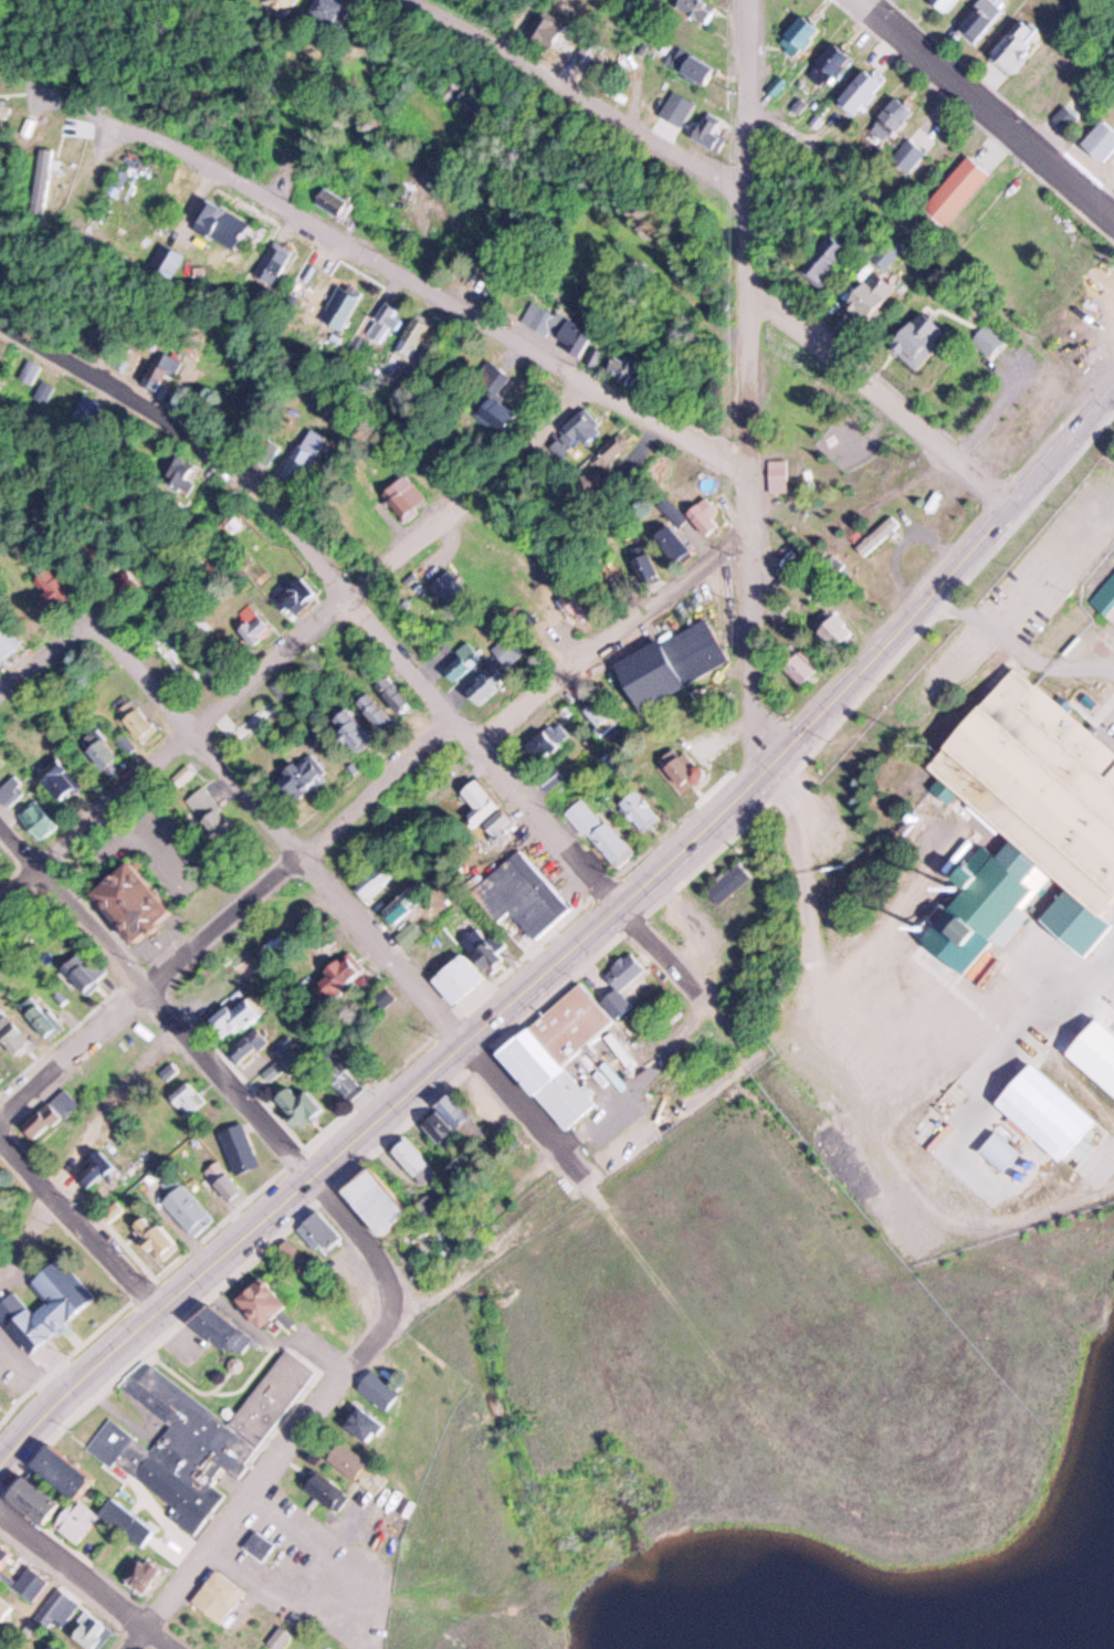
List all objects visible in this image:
building: (285, 2)
building: (945, 3)
building: (697, 8)
building: (324, 10)
building: (979, 18)
building: (544, 27)
building: (799, 35)
road: (747, 39)
building: (1018, 44)
building: (829, 60)
building: (696, 66)
building: (860, 90)
road: (599, 92)
building: (676, 106)
road: (996, 106)
building: (4, 111)
building: (889, 117)
building: (706, 127)
building: (31, 129)
road: (748, 134)
building: (1103, 143)
building: (907, 154)
building: (42, 179)
building: (956, 189)
building: (332, 200)
building: (224, 222)
road: (906, 222)
building: (885, 252)
building: (162, 258)
building: (820, 258)
building: (271, 265)
road: (430, 279)
building: (866, 295)
building: (340, 306)
building: (538, 317)
building: (385, 322)
building: (416, 336)
building: (914, 340)
building: (990, 340)
building: (577, 343)
building: (356, 345)
building: (618, 368)
building: (161, 371)
building: (35, 372)
building: (495, 379)
road: (1083, 386)
road: (882, 388)
building: (50, 390)
building: (92, 409)
building: (490, 417)
building: (572, 434)
building: (606, 449)
building: (266, 451)
building: (302, 455)
building: (181, 473)
building: (780, 474)
road: (753, 477)
building: (588, 482)
road: (1027, 485)
building: (404, 494)
building: (703, 522)
building: (879, 536)
building: (673, 542)
building: (642, 565)
road: (338, 575)
building: (45, 589)
building: (297, 592)
building: (256, 627)
building: (835, 630)
road: (298, 639)
building: (7, 640)
road: (38, 659)
building: (175, 661)
building: (669, 662)
building: (460, 665)
building: (800, 666)
road: (856, 673)
building: (482, 687)
building: (390, 695)
building: (370, 714)
building: (600, 715)
building: (251, 721)
building: (139, 723)
building: (347, 731)
building: (548, 741)
building: (99, 753)
building: (683, 769)
building: (301, 773)
building: (554, 778)
building: (179, 780)
building: (60, 783)
building: (12, 790)
road: (358, 801)
building: (479, 802)
building: (1040, 810)
building: (640, 811)
road: (278, 820)
building: (498, 820)
building: (35, 821)
building: (209, 828)
building: (602, 832)
building: (732, 881)
building: (526, 896)
building: (132, 903)
building: (401, 904)
road: (816, 912)
building: (409, 933)
building: (484, 950)
building: (86, 969)
building: (628, 970)
building: (339, 973)
road: (690, 976)
building: (462, 978)
road: (157, 991)
building: (63, 996)
building: (382, 997)
building: (617, 1001)
building: (231, 1017)
building: (40, 1019)
building: (568, 1027)
building: (13, 1038)
building: (249, 1043)
building: (1097, 1049)
building: (525, 1065)
building: (280, 1067)
building: (170, 1070)
building: (343, 1076)
building: (188, 1097)
building: (568, 1101)
building: (298, 1104)
road: (526, 1109)
building: (51, 1112)
building: (1049, 1112)
road: (383, 1113)
building: (454, 1114)
building: (438, 1132)
building: (240, 1146)
building: (1002, 1151)
building: (411, 1158)
building: (98, 1167)
building: (225, 1181)
building: (378, 1200)
building: (191, 1211)
road: (81, 1216)
building: (322, 1232)
building: (154, 1235)
road: (375, 1247)
building: (295, 1256)
building: (259, 1300)
building: (48, 1303)
building: (217, 1328)
building: (383, 1390)
building: (364, 1422)
building: (204, 1432)
building: (351, 1461)
building: (70, 1472)
road: (256, 1490)
building: (329, 1491)
building: (32, 1500)
building: (77, 1523)
building: (129, 1523)
building: (264, 1546)
building: (3, 1554)
building: (141, 1574)
road: (92, 1575)
building: (33, 1584)
building: (222, 1597)
building: (62, 1605)
building: (4, 1609)
building: (94, 1631)
road: (414, 1635)
building: (285, 1636)
building: (60, 1647)

